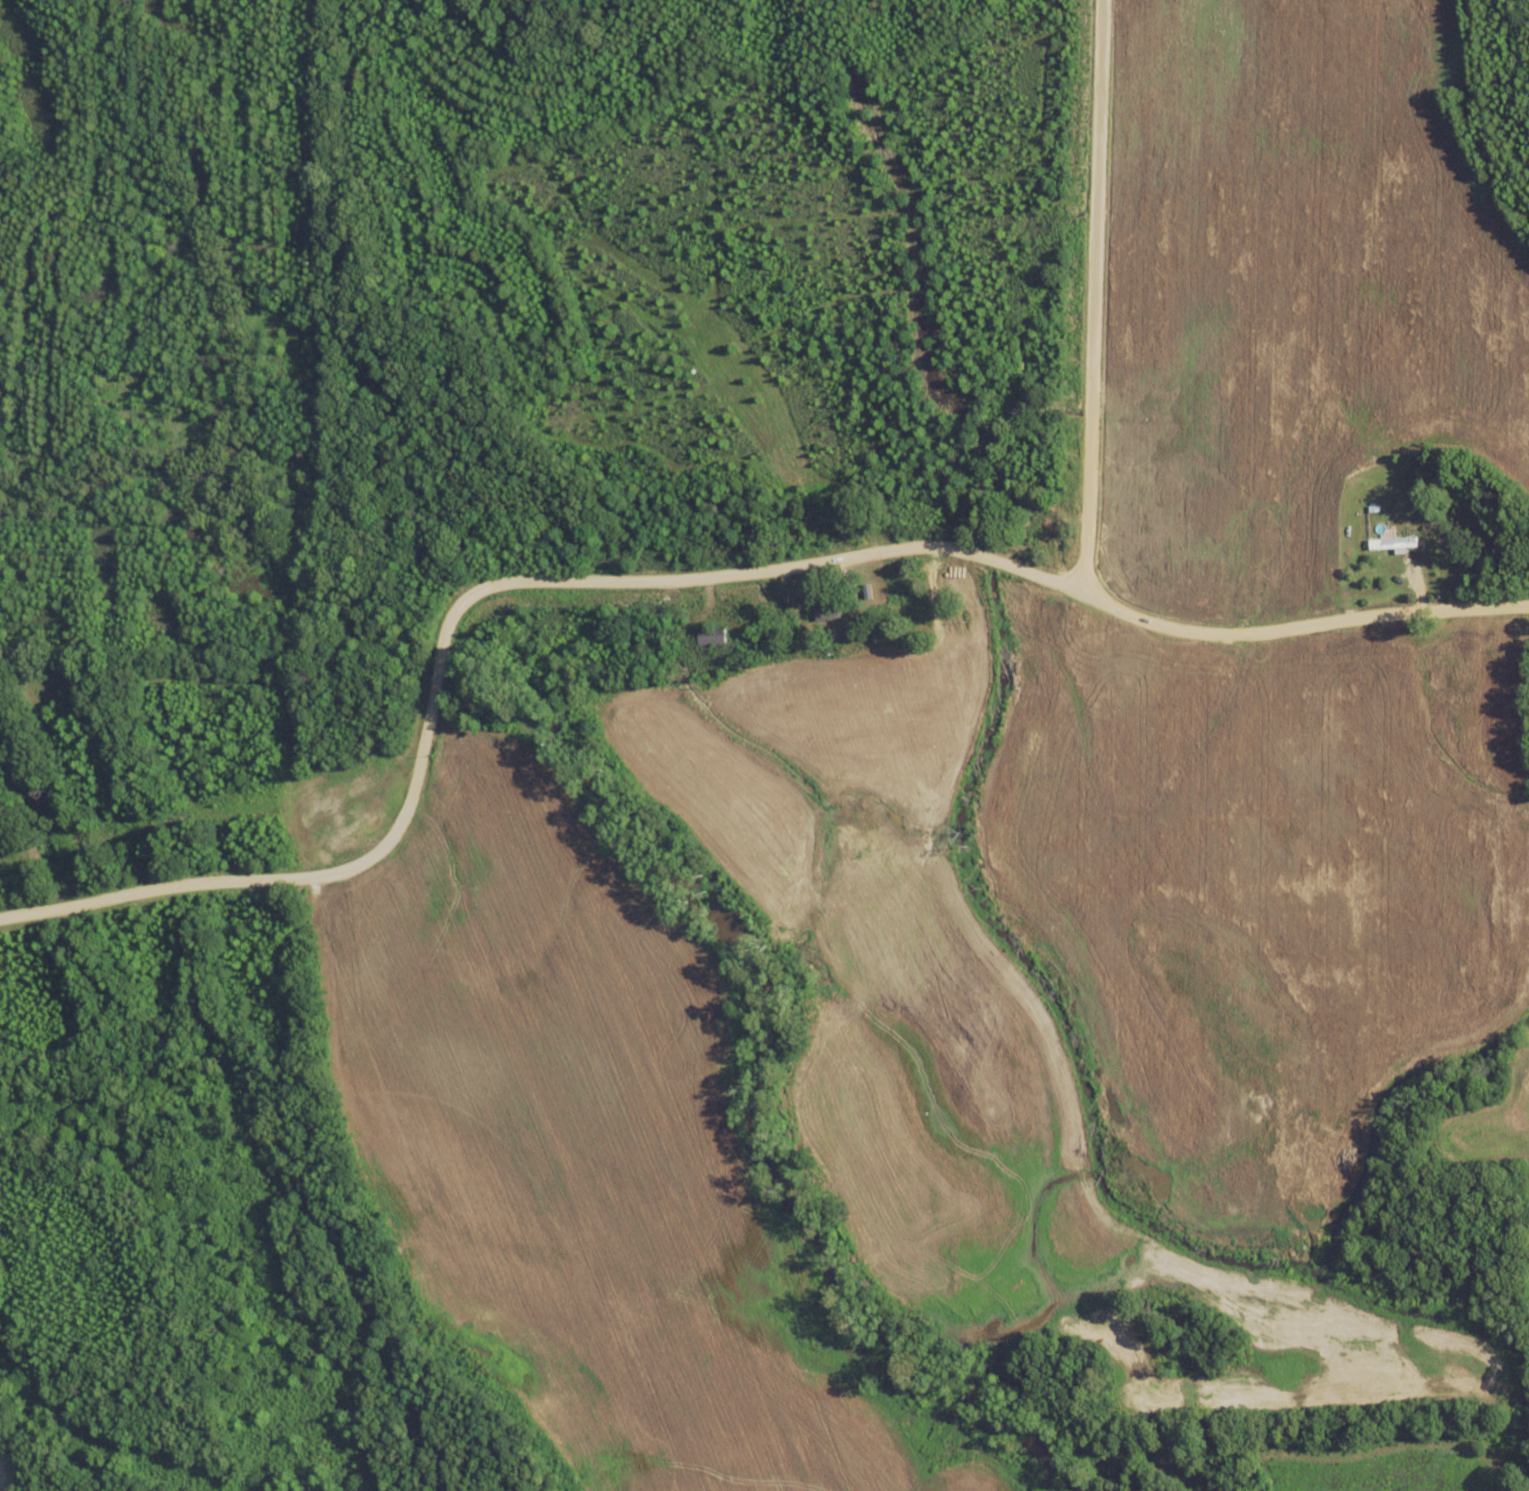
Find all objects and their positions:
road: (1071, 299)
building: (846, 526)
building: (1044, 528)
building: (1399, 559)
building: (829, 610)
building: (713, 636)
road: (462, 638)
road: (1288, 654)

